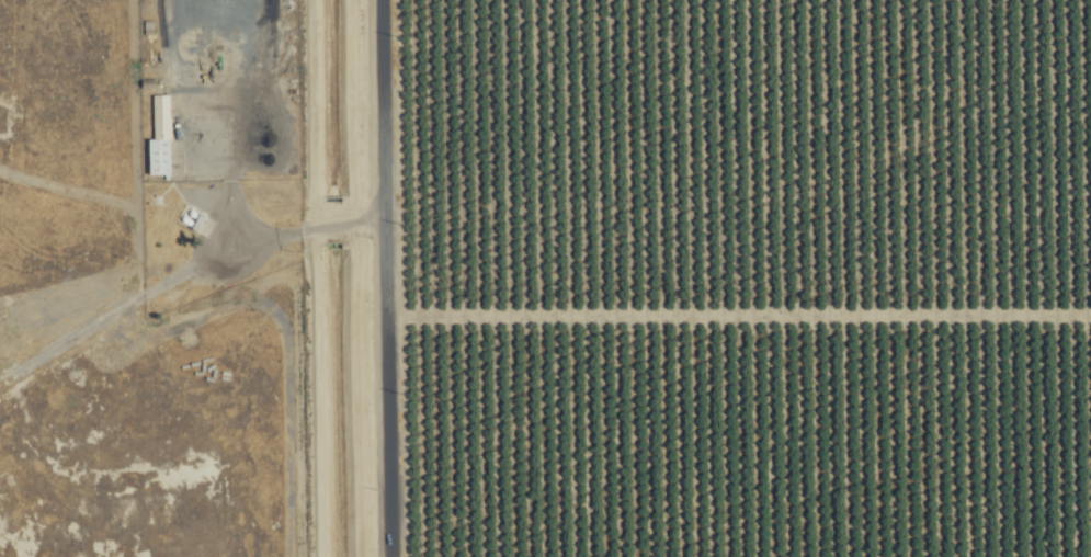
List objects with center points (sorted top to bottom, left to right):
building: (158, 137)
road: (186, 271)
road: (393, 277)

